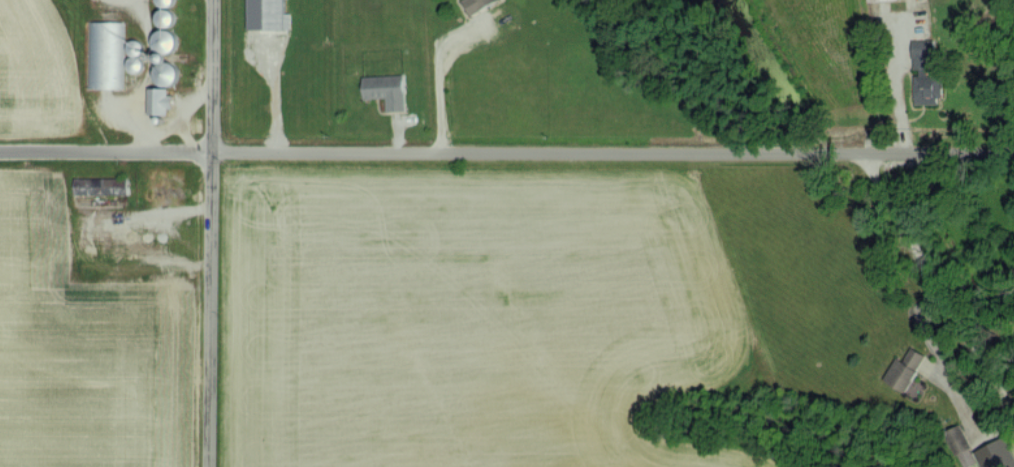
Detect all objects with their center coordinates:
building: (474, 4)
building: (266, 14)
building: (163, 56)
road: (438, 68)
building: (924, 72)
road: (900, 86)
building: (384, 89)
building: (157, 100)
road: (162, 114)
road: (506, 152)
road: (203, 233)
road: (938, 284)
building: (925, 366)
building: (903, 369)
building: (960, 445)
building: (995, 454)

